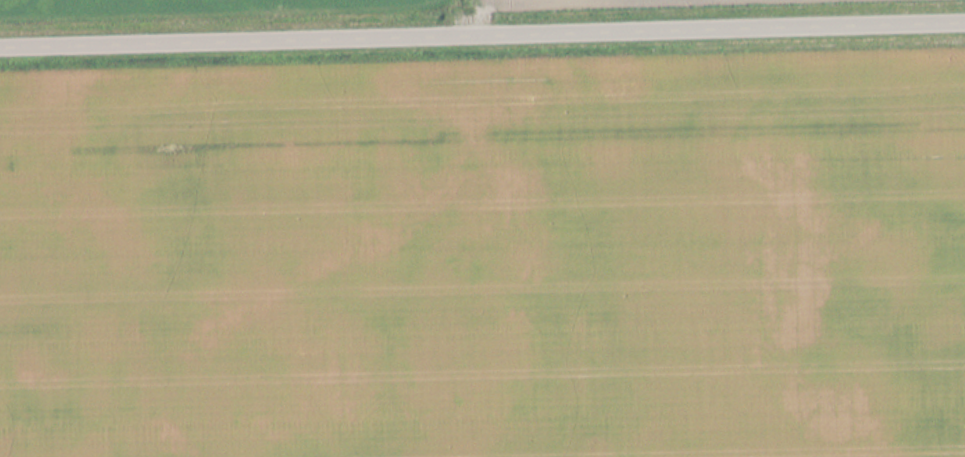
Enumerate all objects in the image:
road: (482, 33)

